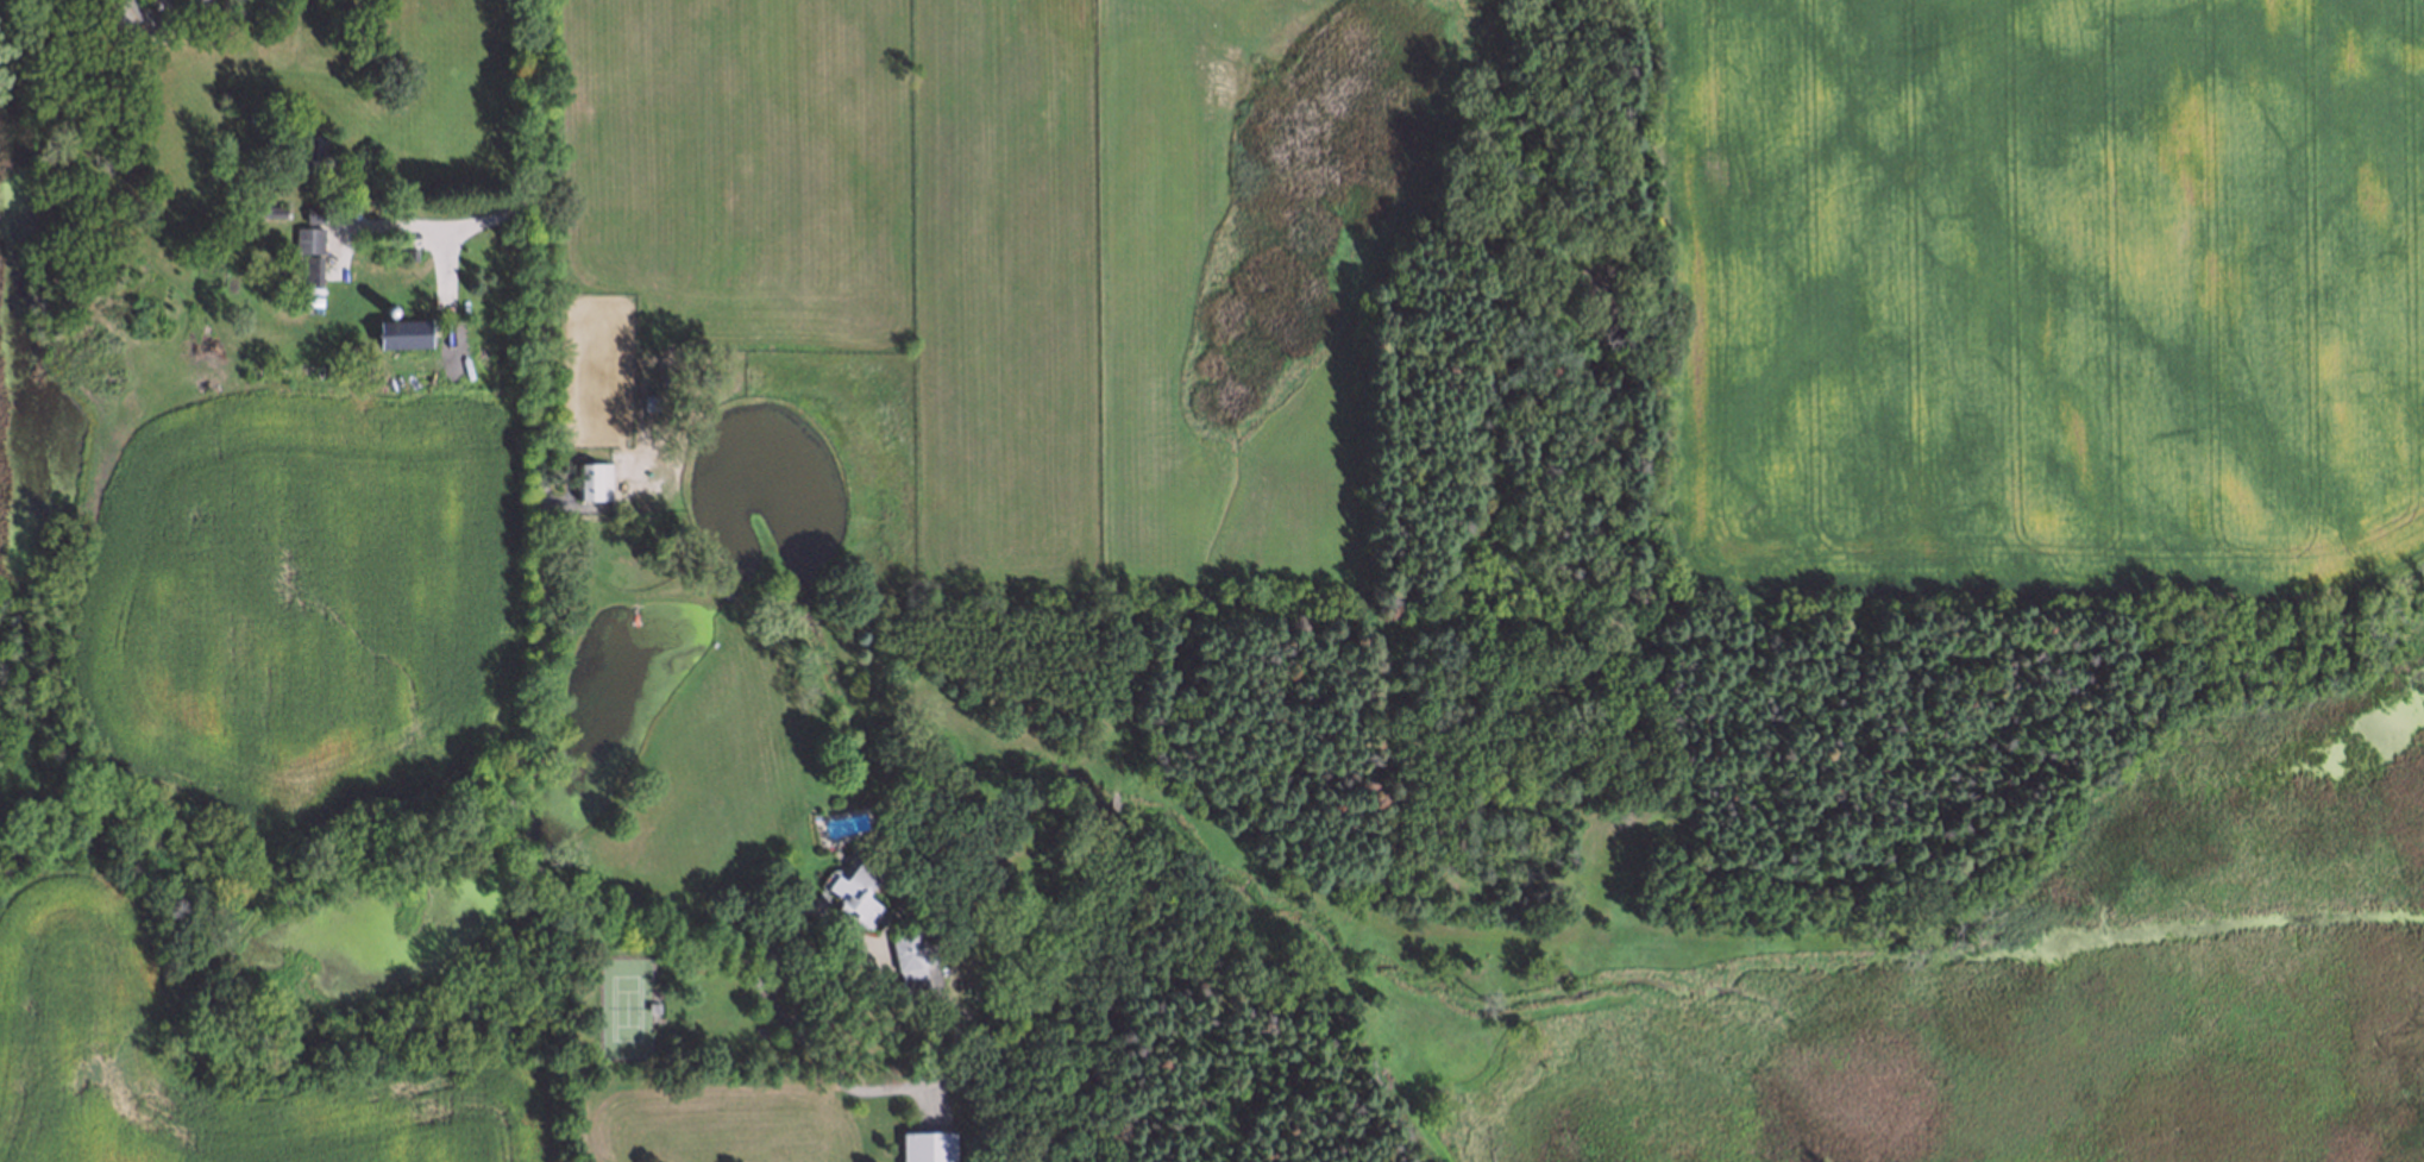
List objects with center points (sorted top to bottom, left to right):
building: (134, 17)
road: (536, 83)
building: (306, 149)
building: (264, 209)
road: (458, 222)
building: (307, 240)
building: (385, 312)
building: (402, 332)
building: (711, 378)
building: (648, 408)
building: (588, 479)
road: (544, 712)
building: (853, 892)
building: (911, 954)
building: (929, 1147)

